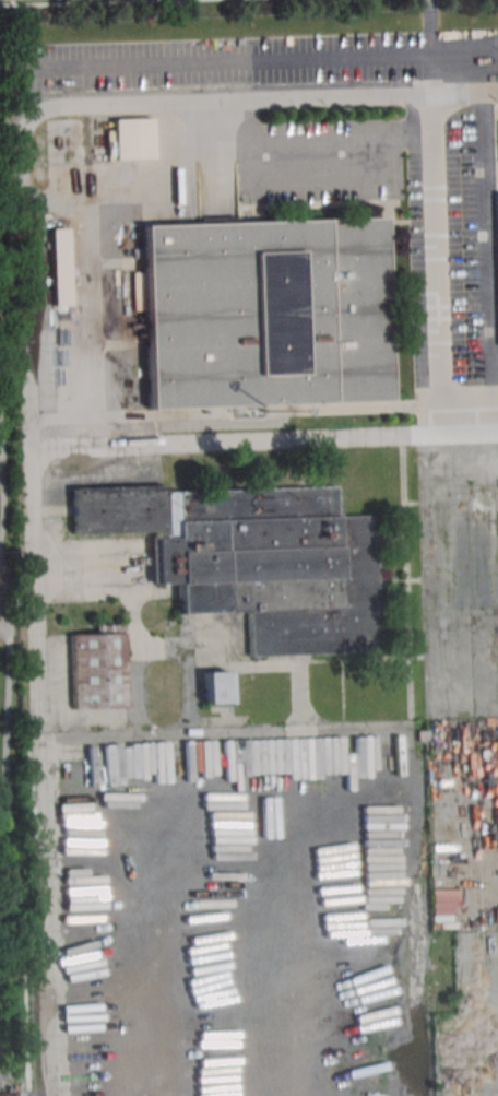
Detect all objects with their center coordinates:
building: (132, 138)
building: (60, 267)
building: (265, 311)
road: (31, 408)
road: (470, 434)
road: (236, 438)
road: (4, 483)
building: (253, 559)
park: (9, 561)
road: (446, 593)
park: (0, 618)
building: (98, 668)
road: (10, 682)
building: (215, 687)
road: (246, 731)

